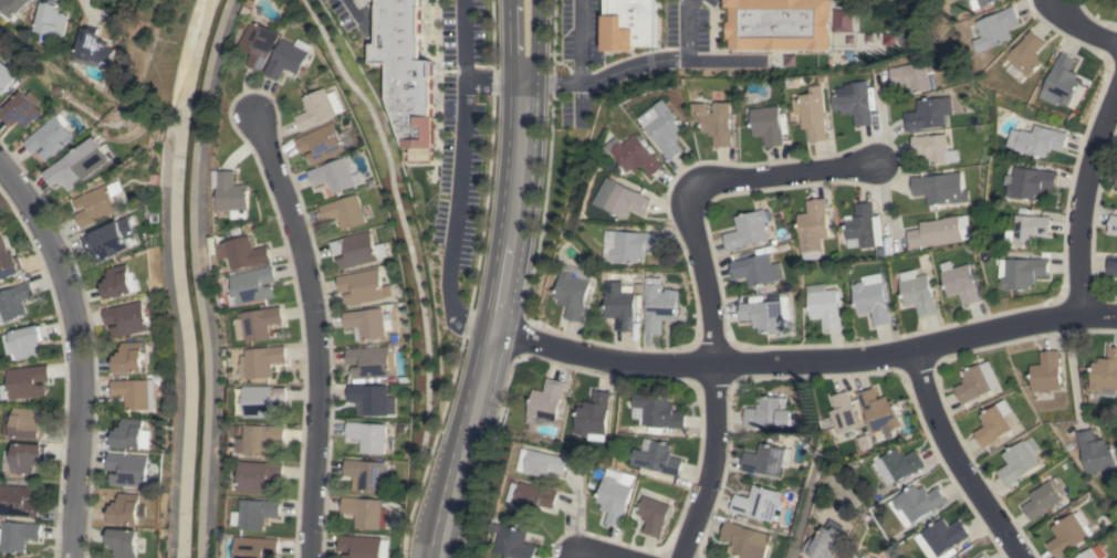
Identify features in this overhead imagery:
building: (969, 0)
building: (982, 3)
building: (13, 6)
building: (54, 19)
road: (358, 19)
building: (839, 20)
building: (629, 24)
building: (777, 24)
road: (1082, 25)
road: (687, 28)
building: (996, 29)
road: (534, 41)
road: (581, 41)
road: (509, 42)
building: (258, 43)
building: (98, 49)
building: (1025, 55)
building: (286, 57)
road: (633, 66)
building: (406, 71)
building: (909, 76)
building: (6, 78)
road: (493, 81)
building: (1063, 81)
road: (552, 82)
building: (854, 102)
building: (20, 108)
building: (319, 108)
building: (812, 112)
building: (927, 114)
building: (714, 122)
building: (768, 125)
building: (665, 129)
building: (50, 137)
building: (1037, 140)
building: (321, 144)
building: (932, 149)
building: (637, 156)
building: (80, 164)
building: (332, 176)
road: (458, 179)
building: (1030, 182)
building: (1116, 182)
building: (940, 188)
building: (231, 193)
road: (1082, 193)
building: (622, 199)
building: (97, 203)
building: (344, 211)
building: (1113, 223)
building: (862, 227)
building: (813, 228)
building: (1027, 229)
building: (747, 230)
building: (936, 232)
road: (404, 234)
building: (109, 239)
building: (634, 245)
building: (356, 250)
building: (243, 253)
building: (8, 262)
building: (1111, 265)
building: (756, 270)
building: (1021, 272)
road: (703, 281)
building: (117, 282)
building: (959, 282)
building: (253, 285)
building: (361, 286)
building: (572, 291)
building: (917, 293)
building: (870, 298)
building: (14, 301)
building: (619, 305)
building: (658, 305)
building: (824, 306)
building: (766, 314)
building: (129, 318)
road: (492, 322)
building: (258, 323)
building: (367, 323)
road: (317, 335)
building: (22, 343)
road: (81, 352)
building: (129, 358)
building: (262, 360)
road: (805, 360)
building: (370, 362)
road: (1071, 364)
building: (1046, 372)
building: (1105, 373)
building: (27, 381)
building: (977, 381)
building: (135, 392)
building: (372, 399)
building: (263, 401)
building: (545, 401)
building: (657, 411)
building: (843, 412)
building: (878, 412)
building: (768, 413)
building: (592, 414)
building: (22, 423)
building: (993, 423)
building: (129, 433)
building: (367, 436)
building: (260, 439)
building: (1096, 453)
building: (25, 456)
building: (660, 459)
road: (951, 459)
building: (763, 460)
building: (1017, 462)
building: (546, 463)
building: (897, 465)
building: (128, 470)
building: (366, 474)
building: (260, 476)
building: (533, 495)
building: (615, 495)
building: (1042, 499)
building: (18, 501)
building: (756, 503)
building: (916, 503)
building: (127, 508)
building: (363, 512)
building: (257, 513)
building: (653, 515)
building: (1068, 534)
building: (17, 535)
building: (941, 537)
building: (744, 540)
building: (825, 540)
building: (514, 541)
building: (123, 543)
building: (359, 546)
building: (255, 547)
building: (1092, 552)
road: (595, 556)
building: (982, 556)
building: (967, 557)

